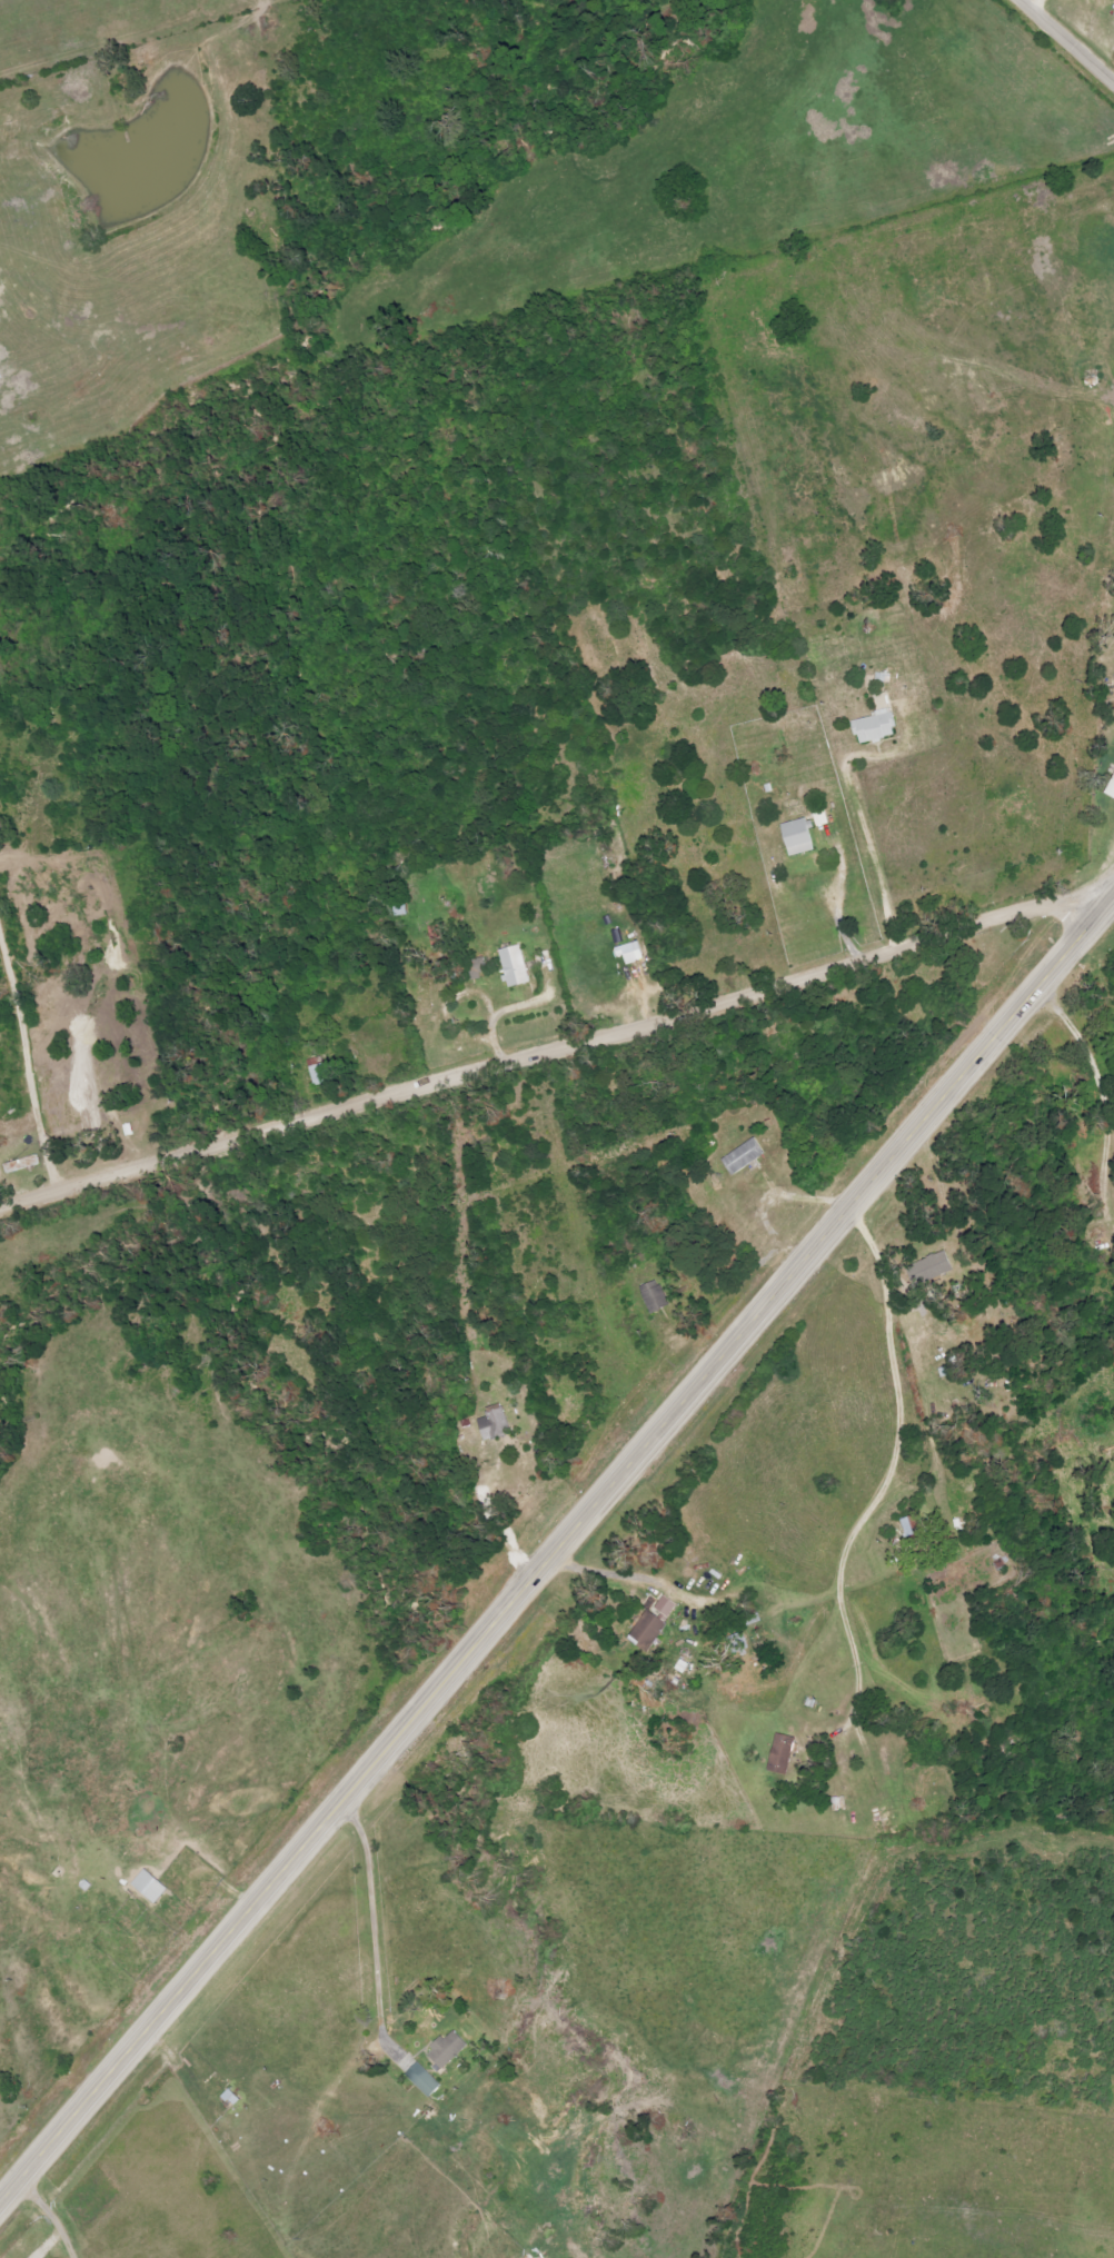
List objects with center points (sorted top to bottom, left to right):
road: (1065, 42)
building: (883, 700)
building: (875, 727)
building: (1111, 789)
building: (798, 837)
road: (876, 848)
building: (630, 952)
park: (988, 952)
building: (515, 966)
building: (477, 967)
road: (550, 1053)
building: (319, 1072)
building: (743, 1156)
building: (929, 1270)
building: (654, 1295)
building: (494, 1424)
road: (917, 1476)
road: (556, 1551)
building: (654, 1622)
building: (782, 1750)
building: (150, 1887)
road: (376, 1919)
building: (447, 2049)
building: (424, 2079)
building: (229, 2099)
road: (53, 2215)
building: (528, 2256)

